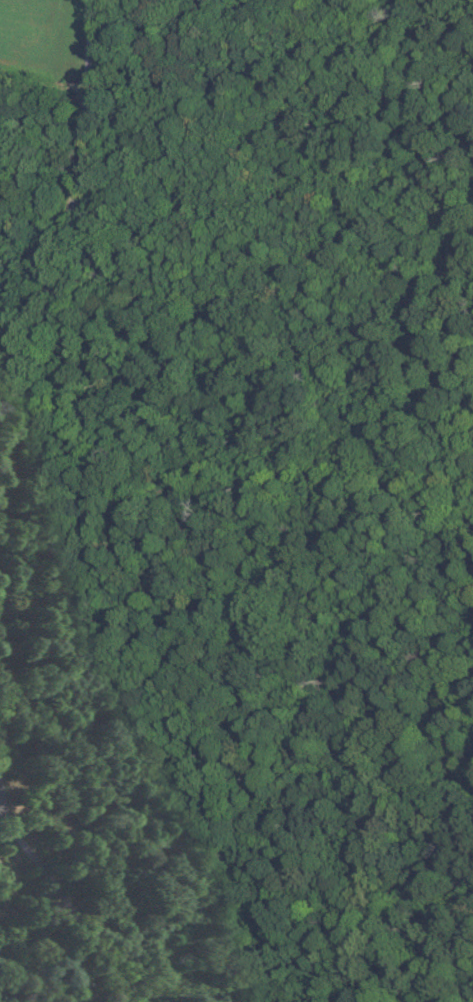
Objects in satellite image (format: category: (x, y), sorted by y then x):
road: (66, 222)
road: (62, 900)

